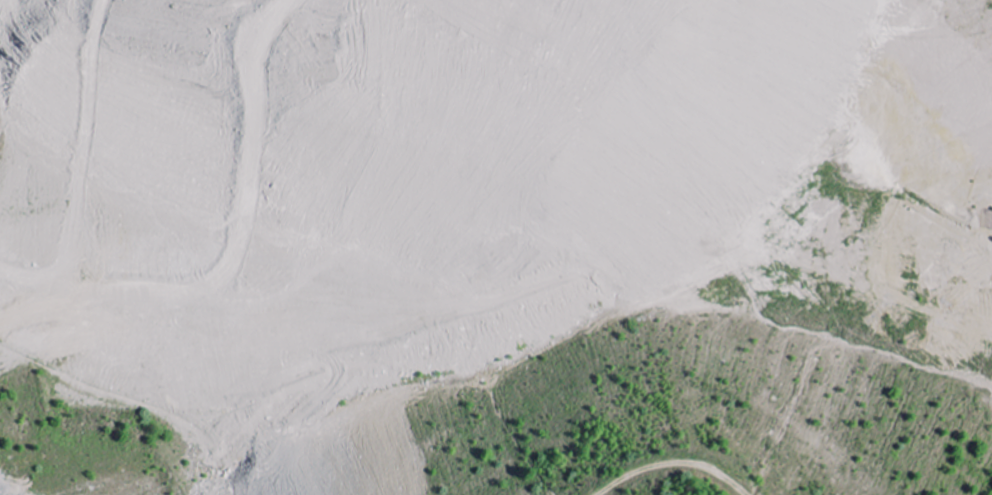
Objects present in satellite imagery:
quarry: (496, 247)

